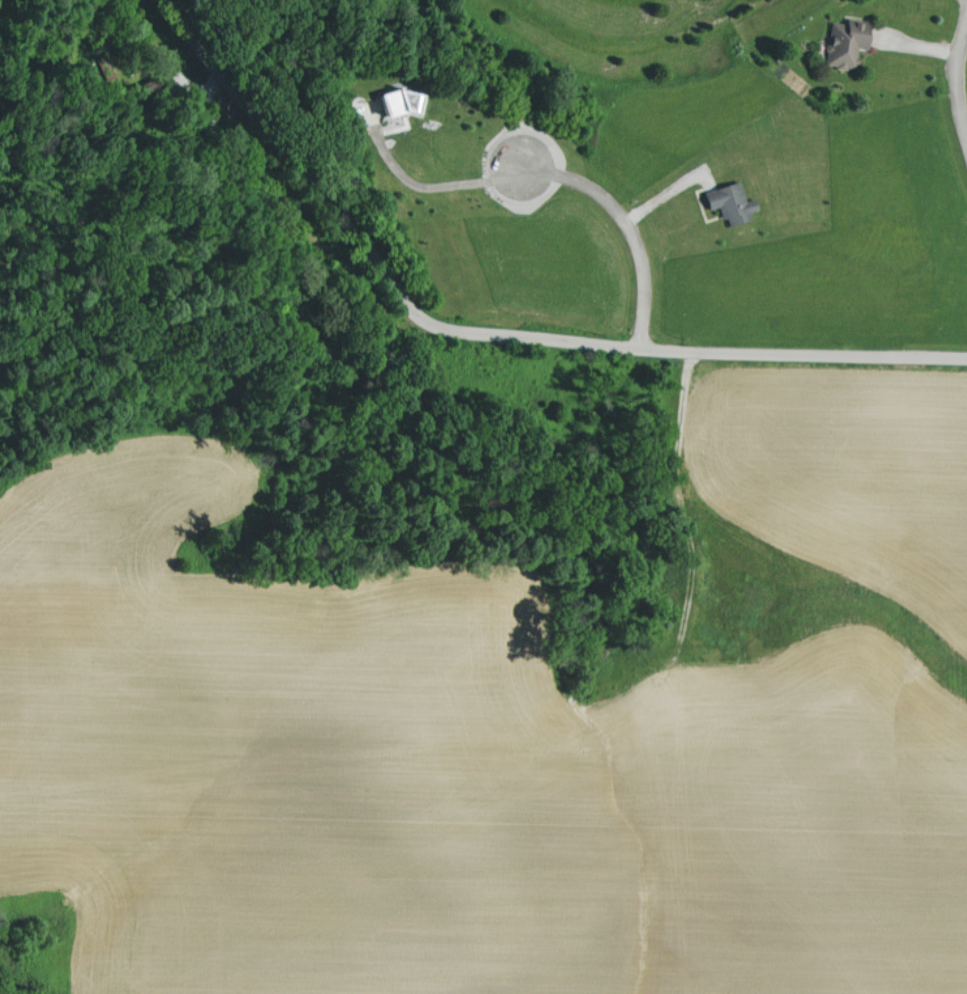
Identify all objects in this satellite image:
building: (853, 43)
road: (954, 83)
building: (405, 103)
building: (736, 203)
road: (345, 215)
road: (630, 230)
road: (764, 365)

